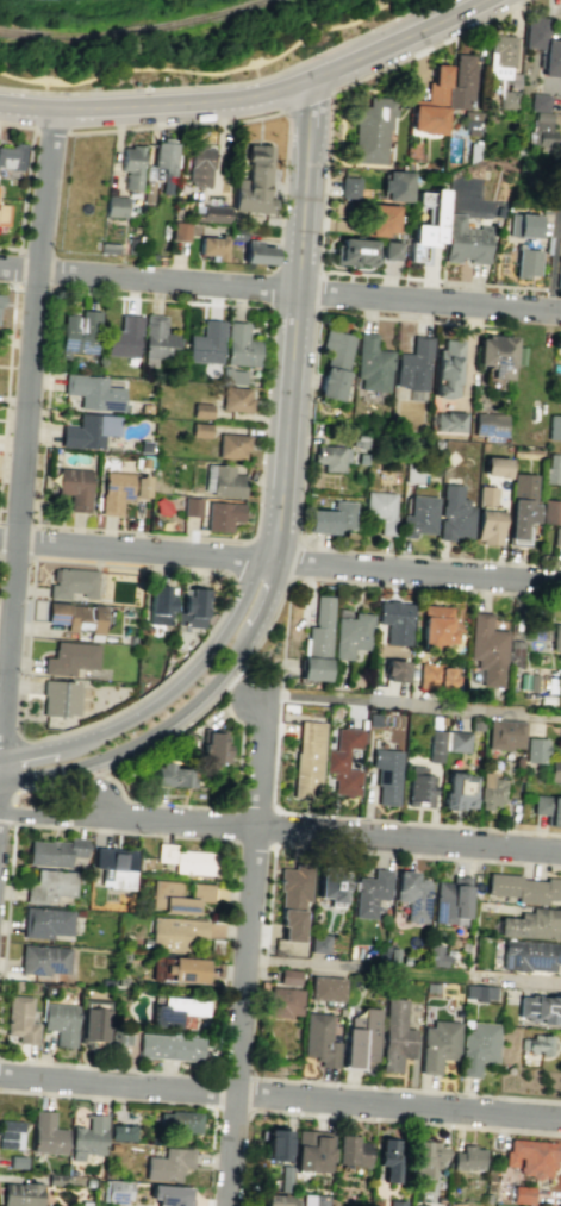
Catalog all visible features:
wastewater plant: (75, 5)
road: (126, 24)
road: (422, 26)
railway: (136, 30)
building: (542, 46)
park: (200, 50)
building: (500, 55)
road: (332, 67)
road: (204, 71)
road: (251, 71)
road: (225, 82)
building: (460, 82)
road: (37, 87)
road: (305, 100)
building: (507, 100)
building: (538, 101)
road: (151, 102)
building: (429, 104)
building: (470, 121)
road: (173, 125)
road: (14, 126)
building: (370, 129)
road: (45, 130)
building: (542, 130)
building: (10, 156)
building: (162, 162)
building: (195, 164)
building: (127, 165)
building: (253, 181)
building: (395, 186)
building: (348, 187)
road: (23, 188)
building: (144, 190)
road: (281, 190)
road: (322, 195)
building: (112, 204)
building: (343, 208)
building: (208, 212)
building: (2, 213)
building: (376, 218)
building: (425, 225)
building: (523, 225)
building: (179, 231)
building: (236, 235)
road: (555, 236)
building: (463, 239)
building: (130, 245)
building: (212, 245)
building: (107, 248)
building: (389, 249)
building: (351, 251)
building: (256, 252)
building: (525, 262)
road: (17, 268)
building: (557, 280)
road: (35, 288)
road: (280, 288)
road: (270, 289)
road: (314, 295)
building: (0, 300)
road: (52, 302)
road: (297, 320)
building: (79, 332)
building: (124, 337)
building: (157, 338)
building: (205, 343)
building: (239, 345)
building: (495, 354)
building: (518, 355)
building: (334, 361)
building: (372, 363)
building: (413, 363)
building: (447, 368)
road: (7, 373)
building: (231, 375)
building: (92, 392)
building: (235, 399)
building: (145, 408)
building: (201, 410)
building: (449, 420)
building: (488, 424)
building: (554, 426)
building: (199, 430)
building: (88, 431)
road: (25, 432)
building: (357, 440)
building: (231, 445)
building: (482, 446)
building: (330, 456)
building: (363, 458)
building: (144, 462)
building: (494, 465)
building: (549, 469)
building: (223, 481)
building: (74, 487)
building: (120, 489)
building: (521, 504)
building: (192, 506)
building: (380, 510)
building: (548, 511)
building: (453, 513)
building: (222, 515)
building: (417, 517)
building: (486, 517)
building: (330, 518)
building: (556, 536)
road: (319, 545)
road: (280, 560)
road: (241, 561)
road: (300, 561)
building: (71, 582)
building: (158, 605)
building: (193, 607)
road: (264, 612)
building: (76, 616)
building: (394, 621)
building: (436, 626)
road: (266, 627)
road: (285, 627)
building: (349, 632)
building: (555, 637)
building: (317, 642)
building: (486, 650)
building: (69, 658)
road: (204, 660)
building: (393, 669)
road: (25, 675)
building: (434, 676)
road: (241, 682)
building: (60, 696)
road: (407, 704)
road: (181, 713)
building: (372, 719)
building: (435, 720)
building: (475, 725)
building: (504, 733)
building: (559, 735)
road: (12, 742)
building: (457, 742)
road: (54, 745)
building: (435, 746)
building: (213, 748)
building: (534, 749)
road: (1, 756)
building: (307, 756)
building: (343, 761)
road: (58, 769)
building: (554, 769)
road: (1, 771)
building: (386, 774)
building: (169, 775)
road: (0, 781)
building: (418, 787)
building: (488, 789)
building: (456, 791)
road: (7, 792)
road: (222, 806)
road: (255, 807)
building: (547, 807)
road: (13, 813)
road: (49, 814)
road: (349, 816)
road: (6, 823)
road: (235, 824)
road: (274, 827)
road: (317, 831)
road: (230, 839)
road: (253, 842)
building: (55, 851)
road: (417, 856)
building: (187, 858)
building: (114, 867)
building: (330, 881)
building: (49, 886)
building: (523, 888)
building: (370, 893)
building: (412, 894)
building: (177, 896)
building: (292, 898)
building: (449, 899)
road: (267, 911)
road: (6, 918)
building: (45, 921)
building: (531, 924)
building: (177, 936)
building: (319, 943)
building: (214, 945)
road: (248, 950)
building: (436, 955)
building: (529, 955)
building: (43, 958)
road: (301, 962)
building: (185, 969)
road: (412, 973)
building: (289, 976)
building: (119, 980)
road: (515, 980)
building: (104, 981)
building: (432, 987)
building: (326, 988)
building: (480, 992)
building: (282, 1002)
building: (538, 1007)
building: (175, 1012)
building: (19, 1019)
building: (92, 1021)
building: (60, 1023)
building: (360, 1037)
building: (395, 1037)
building: (118, 1038)
building: (319, 1039)
building: (537, 1044)
building: (437, 1045)
building: (169, 1046)
building: (478, 1046)
road: (107, 1067)
road: (233, 1073)
road: (406, 1088)
road: (216, 1089)
road: (251, 1094)
road: (280, 1095)
road: (156, 1101)
road: (232, 1108)
building: (179, 1120)
road: (405, 1123)
building: (120, 1132)
building: (11, 1133)
building: (46, 1133)
building: (87, 1137)
building: (273, 1143)
building: (113, 1146)
building: (312, 1150)
building: (350, 1151)
building: (428, 1155)
building: (530, 1156)
building: (387, 1157)
building: (467, 1157)
building: (17, 1161)
building: (167, 1164)
building: (283, 1179)
building: (55, 1180)
building: (88, 1182)
building: (114, 1191)
building: (21, 1194)
building: (169, 1194)
building: (522, 1194)
building: (276, 1200)
building: (312, 1200)
building: (83, 1202)
building: (395, 1202)
building: (455, 1204)
building: (419, 1205)

